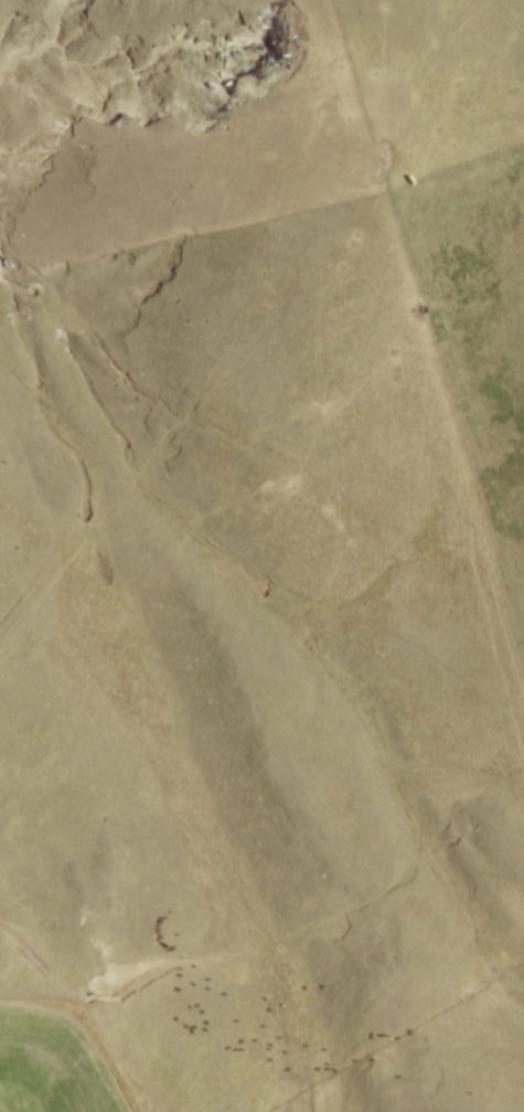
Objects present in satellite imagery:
crop: (53, 1061)

